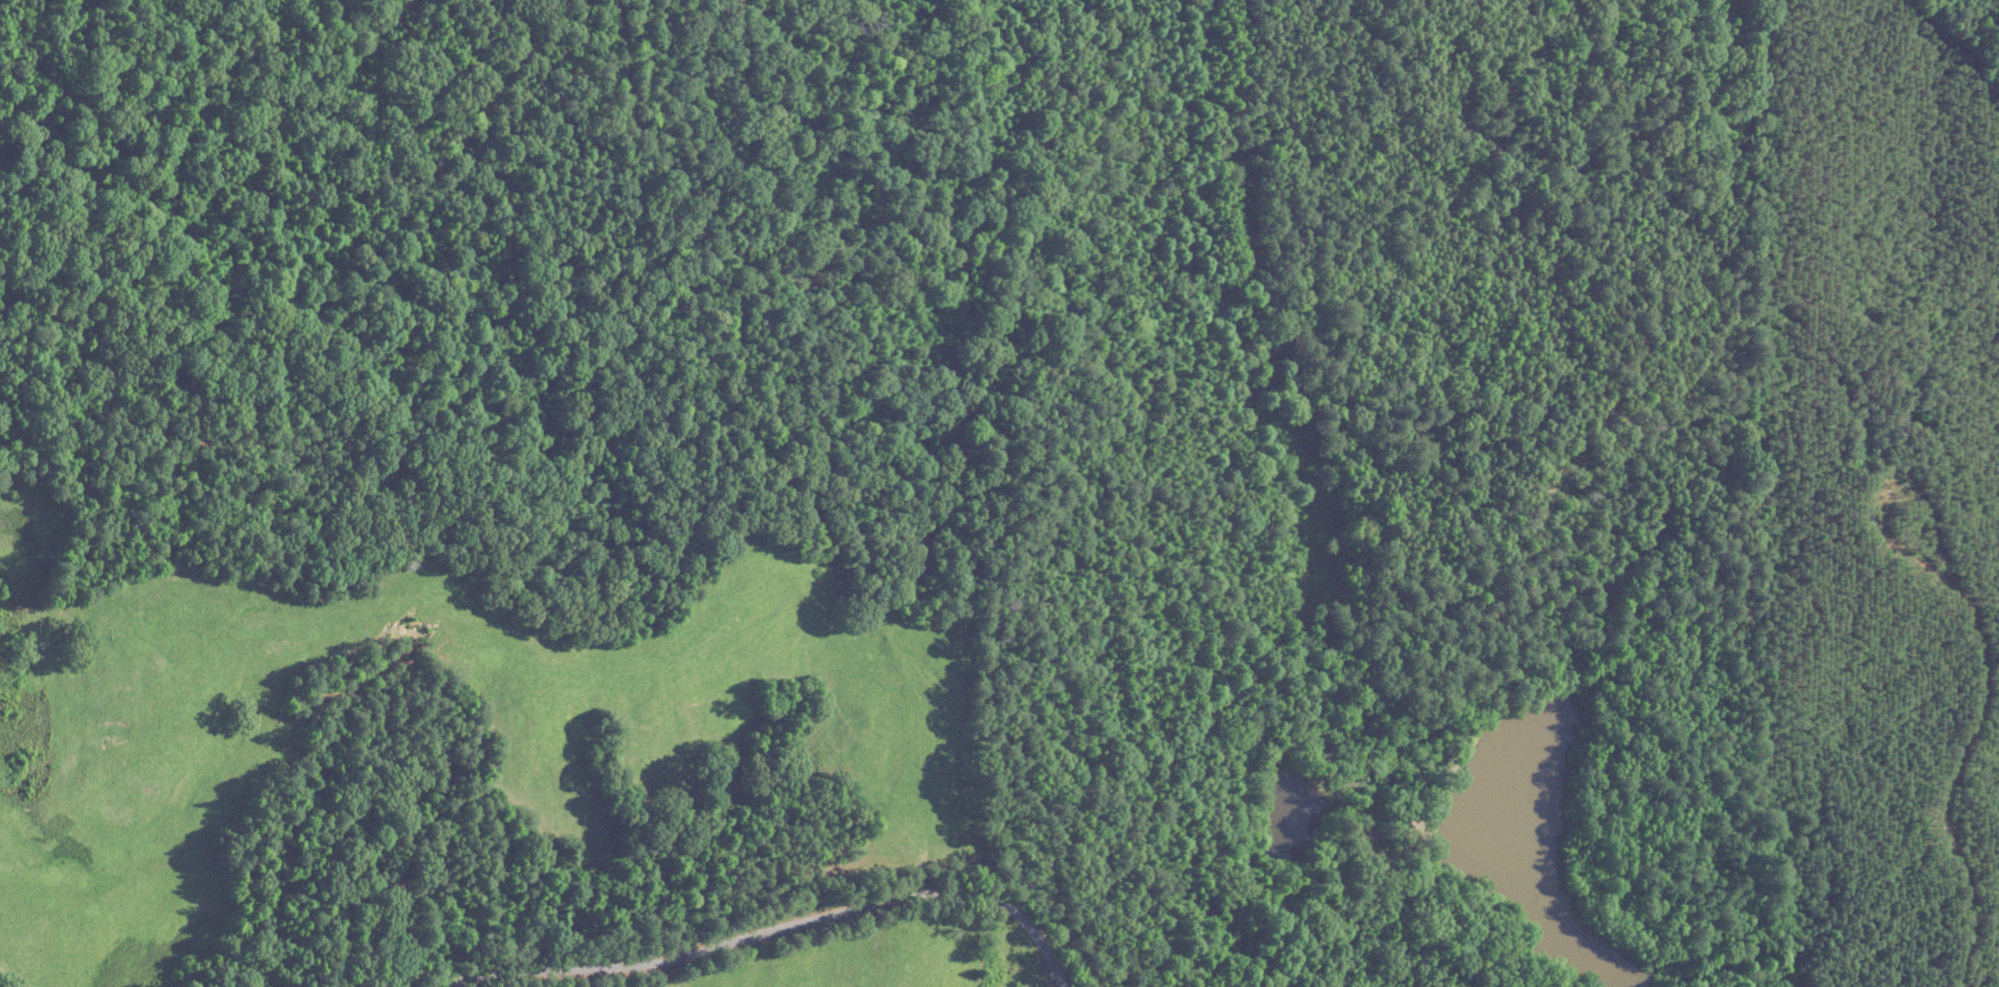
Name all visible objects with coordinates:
road: (774, 929)

